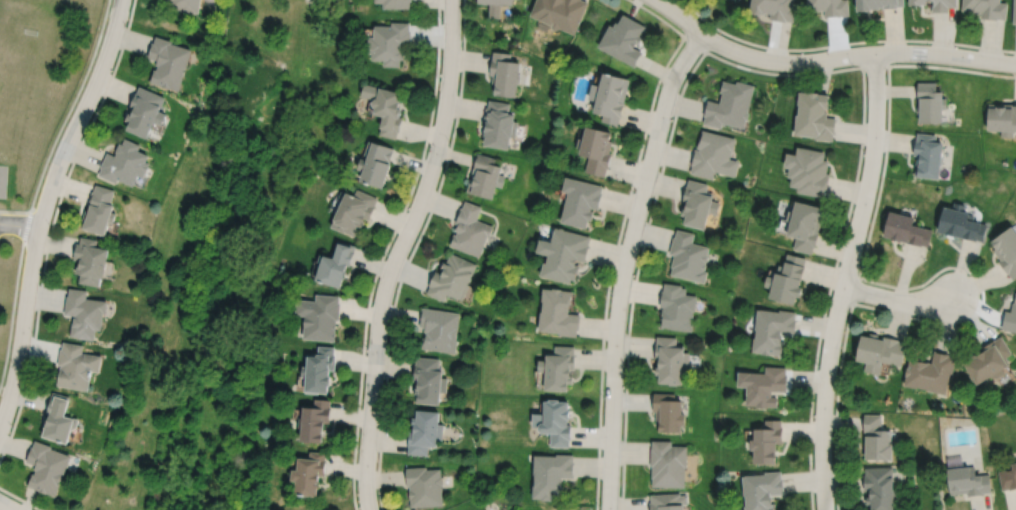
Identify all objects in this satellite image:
building: (916, 1)
building: (396, 3)
building: (878, 3)
building: (185, 4)
building: (942, 4)
building: (496, 6)
building: (830, 6)
building: (986, 7)
building: (774, 8)
building: (560, 12)
building: (1014, 12)
building: (623, 38)
building: (390, 41)
road: (841, 43)
road: (828, 58)
building: (168, 60)
park: (13, 69)
building: (506, 72)
road: (814, 72)
building: (611, 96)
building: (930, 102)
building: (730, 104)
road: (70, 106)
building: (386, 106)
building: (145, 109)
building: (815, 115)
building: (1002, 117)
building: (500, 123)
building: (595, 149)
building: (713, 154)
building: (928, 155)
building: (124, 162)
building: (376, 162)
building: (808, 170)
building: (486, 175)
building: (579, 200)
building: (698, 204)
road: (43, 207)
building: (99, 209)
road: (15, 210)
building: (355, 211)
building: (960, 223)
road: (19, 224)
road: (52, 224)
building: (805, 225)
building: (471, 229)
building: (906, 229)
building: (1006, 250)
road: (383, 252)
road: (397, 252)
road: (411, 253)
building: (562, 254)
building: (688, 257)
building: (90, 260)
building: (336, 264)
road: (625, 264)
building: (452, 277)
building: (787, 279)
road: (844, 280)
road: (14, 298)
road: (898, 300)
building: (677, 307)
building: (557, 312)
building: (84, 313)
building: (320, 316)
building: (1010, 317)
building: (439, 329)
building: (772, 330)
building: (880, 352)
building: (670, 360)
building: (989, 361)
building: (76, 366)
building: (557, 368)
building: (320, 370)
building: (930, 372)
building: (429, 380)
building: (763, 386)
building: (668, 413)
building: (58, 419)
building: (315, 421)
building: (553, 423)
building: (425, 432)
building: (877, 440)
building: (767, 443)
building: (667, 464)
building: (48, 467)
building: (310, 474)
building: (550, 476)
building: (1008, 478)
building: (967, 482)
building: (425, 486)
building: (880, 488)
building: (762, 490)
road: (20, 498)
building: (667, 502)
road: (1, 508)

